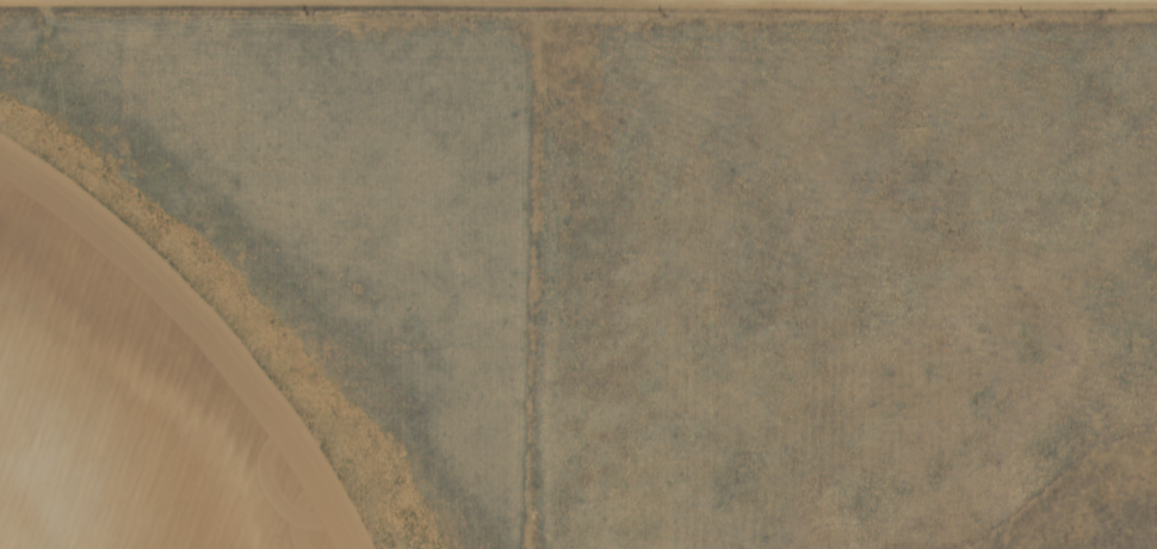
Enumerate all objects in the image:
road: (930, 1)

